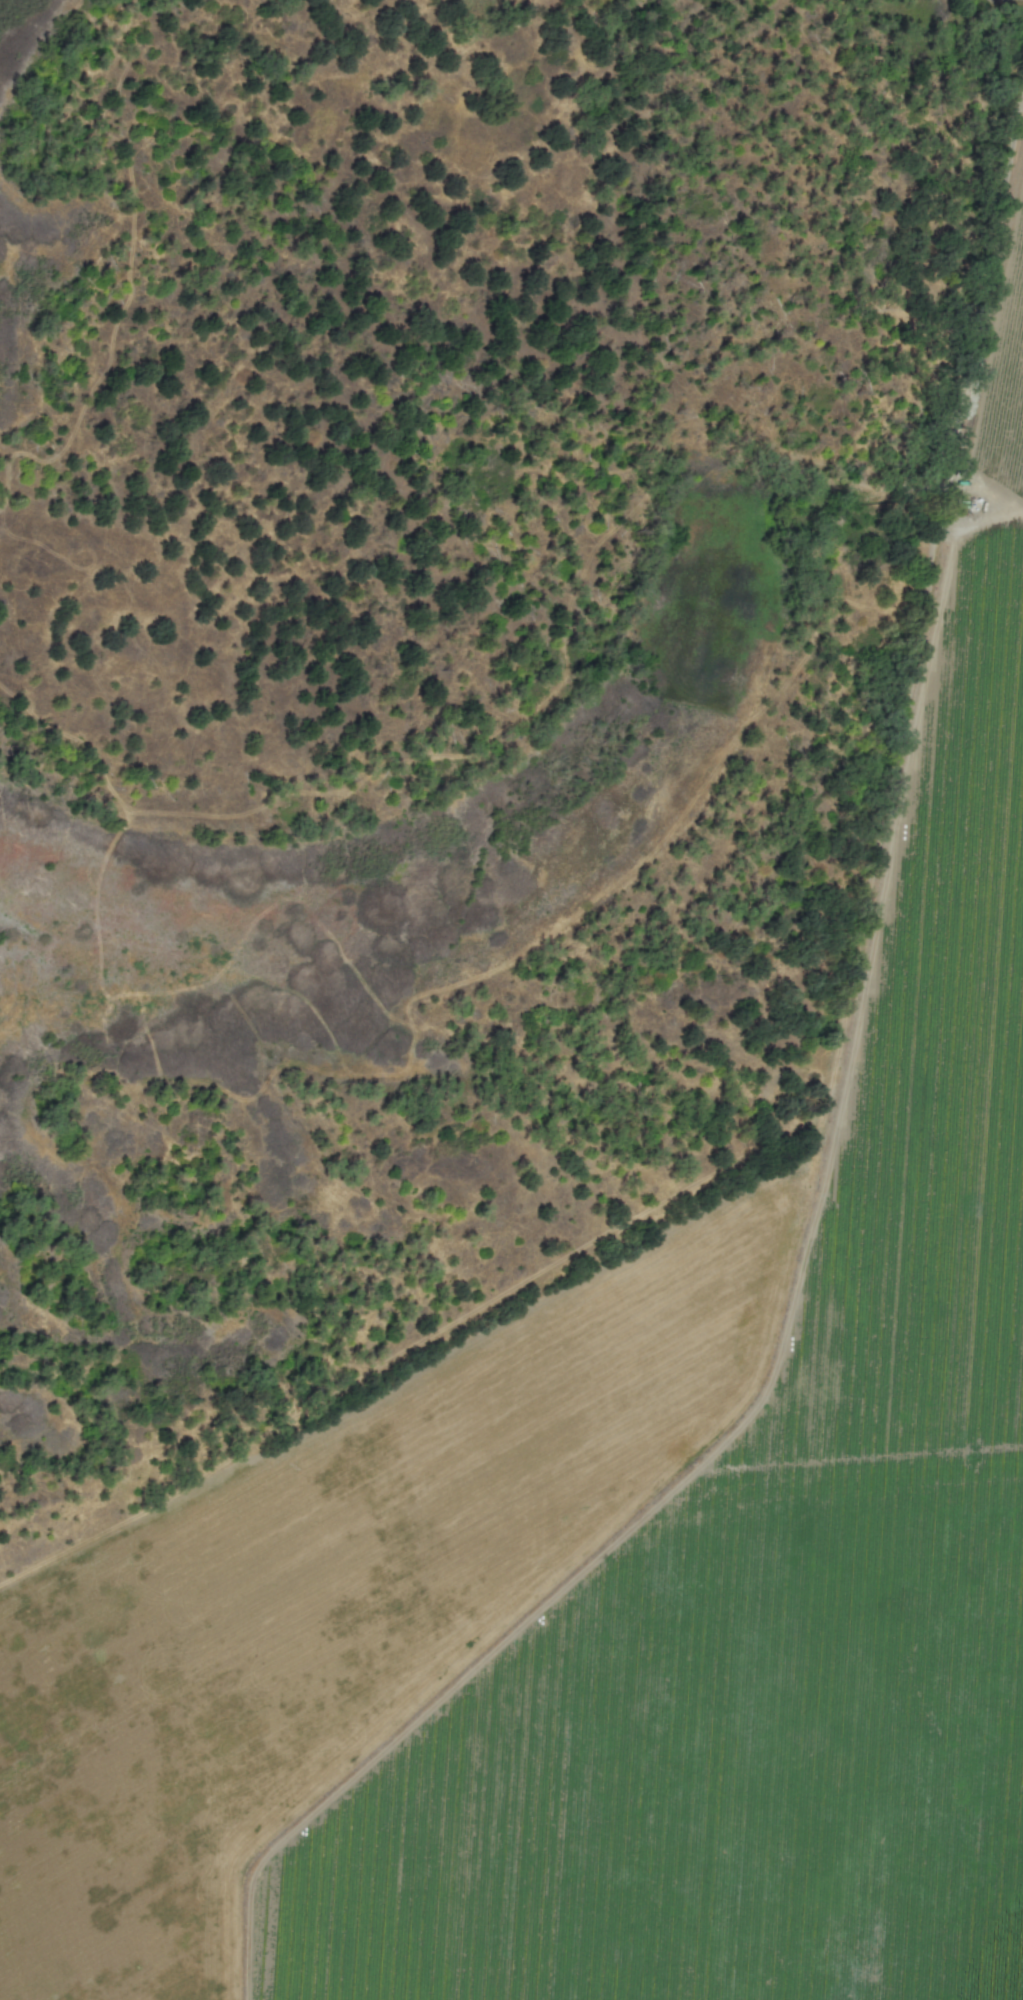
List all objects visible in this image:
road: (1013, 0)
road: (1016, 0)
road: (1019, 1)
road: (981, 312)
crop: (628, 1499)

